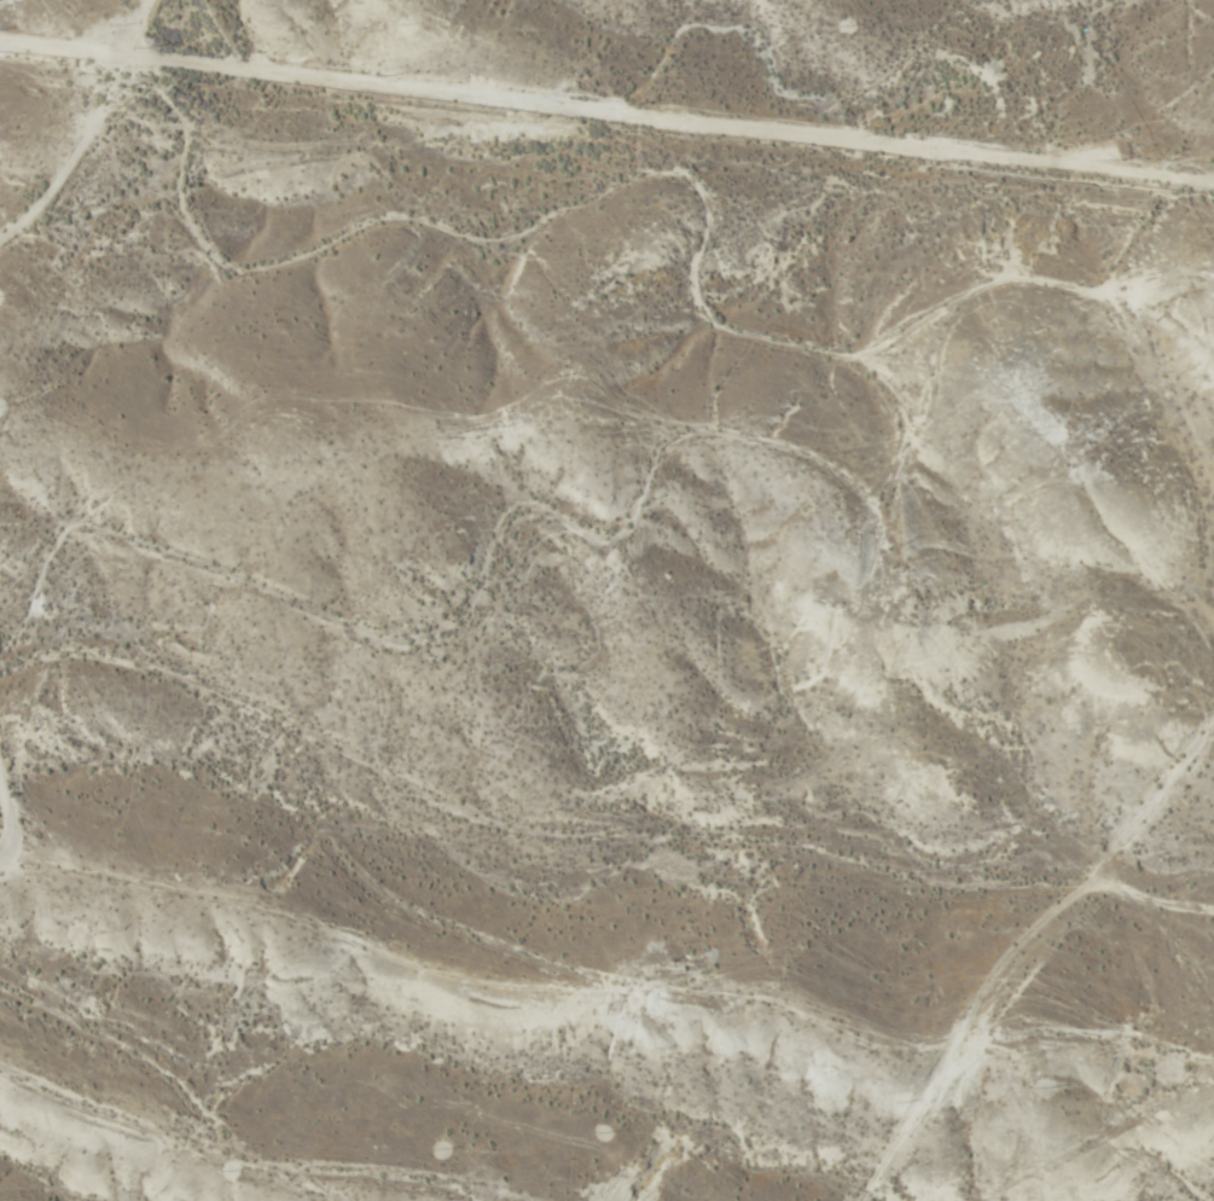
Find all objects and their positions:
road: (167, 64)
road: (482, 274)
road: (726, 495)
road: (637, 744)
road: (1027, 957)
road: (384, 1133)
road: (144, 1137)

